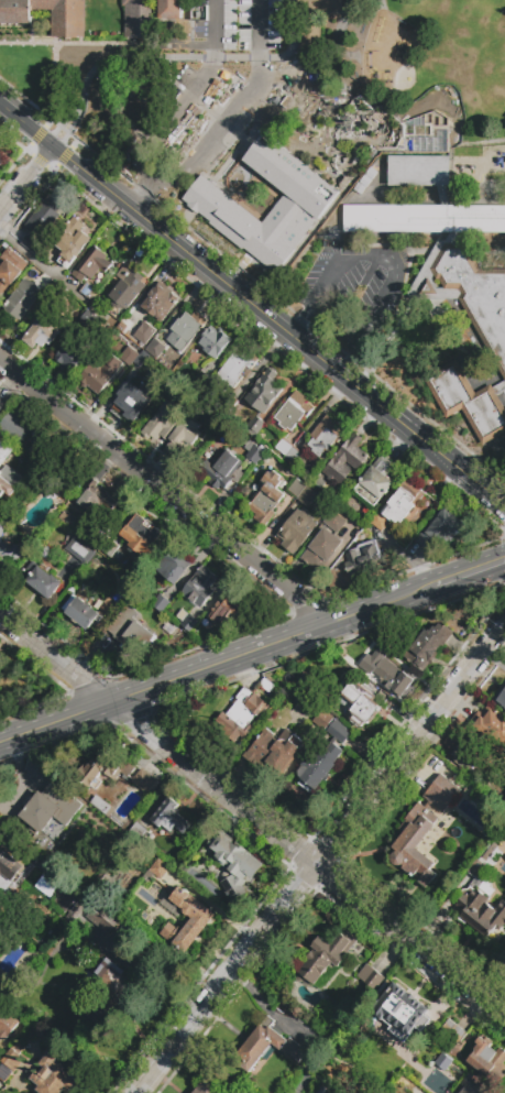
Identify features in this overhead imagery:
building: (169, 9)
building: (67, 18)
building: (138, 18)
building: (316, 22)
road: (78, 44)
road: (175, 53)
road: (131, 61)
road: (322, 62)
park: (417, 67)
road: (55, 90)
parking lot: (205, 96)
road: (195, 106)
road: (380, 116)
building: (0, 155)
building: (1, 162)
building: (468, 175)
road: (99, 177)
road: (28, 178)
road: (138, 194)
road: (158, 195)
building: (296, 210)
building: (46, 216)
building: (70, 240)
building: (32, 245)
building: (444, 247)
road: (385, 258)
building: (91, 263)
building: (11, 267)
building: (128, 286)
building: (90, 292)
road: (244, 296)
building: (24, 298)
building: (158, 303)
building: (199, 318)
building: (89, 319)
building: (187, 328)
building: (42, 334)
building: (145, 334)
building: (213, 341)
building: (177, 342)
building: (155, 349)
road: (318, 356)
building: (130, 357)
building: (68, 358)
building: (157, 369)
building: (101, 374)
building: (229, 374)
building: (264, 392)
building: (180, 398)
building: (129, 400)
building: (468, 401)
building: (1, 404)
building: (232, 406)
building: (293, 413)
building: (256, 424)
road: (405, 425)
building: (17, 427)
building: (172, 430)
building: (36, 437)
building: (323, 437)
building: (288, 451)
building: (344, 460)
building: (231, 467)
building: (9, 473)
building: (68, 481)
building: (375, 481)
building: (319, 482)
building: (297, 488)
road: (484, 490)
building: (246, 491)
building: (270, 494)
road: (165, 495)
building: (307, 496)
building: (97, 500)
building: (400, 505)
building: (334, 521)
building: (441, 528)
building: (298, 529)
building: (142, 534)
building: (110, 548)
building: (79, 549)
building: (321, 549)
building: (8, 550)
building: (363, 558)
building: (171, 569)
road: (471, 571)
building: (42, 580)
building: (200, 587)
building: (128, 589)
building: (162, 606)
building: (227, 608)
building: (84, 614)
building: (190, 624)
building: (169, 630)
building: (131, 634)
building: (428, 646)
road: (56, 658)
road: (224, 664)
building: (387, 674)
building: (267, 685)
building: (501, 698)
building: (362, 703)
building: (242, 715)
building: (322, 720)
building: (492, 724)
building: (340, 733)
road: (6, 743)
road: (6, 747)
building: (275, 752)
building: (469, 759)
building: (319, 767)
building: (102, 770)
building: (145, 783)
building: (442, 794)
building: (504, 801)
building: (100, 805)
building: (58, 817)
building: (171, 817)
building: (136, 834)
building: (415, 846)
building: (482, 846)
road: (319, 859)
road: (308, 860)
building: (484, 862)
building: (234, 864)
building: (9, 866)
building: (158, 868)
building: (88, 896)
building: (64, 898)
building: (482, 911)
building: (201, 919)
building: (105, 921)
building: (4, 927)
building: (327, 955)
building: (410, 973)
building: (371, 976)
building: (109, 994)
building: (403, 1007)
building: (7, 1025)
building: (453, 1031)
building: (263, 1047)
building: (408, 1047)
building: (488, 1060)
building: (11, 1062)
building: (444, 1065)
building: (53, 1074)
building: (205, 1089)
building: (469, 1089)

